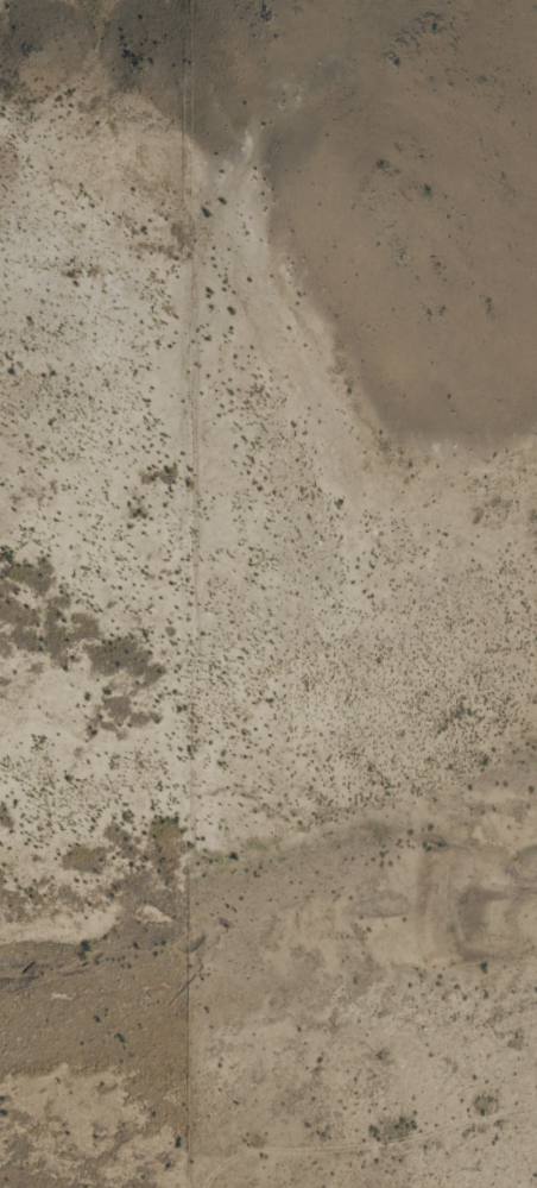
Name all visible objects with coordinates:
road: (375, 1165)

